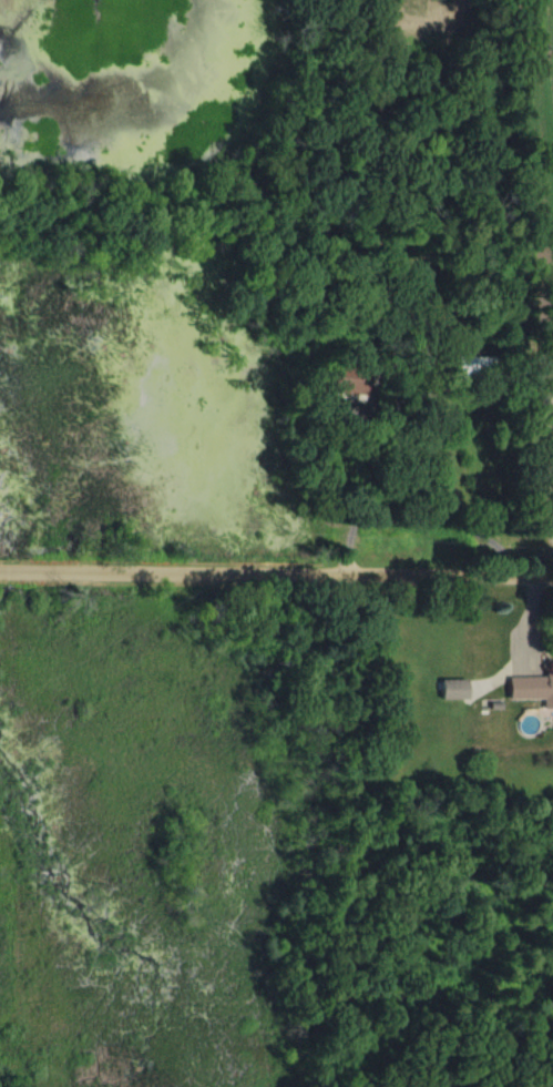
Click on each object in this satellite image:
crop: (430, 16)
road: (403, 413)
road: (276, 568)
building: (453, 692)
building: (532, 692)

